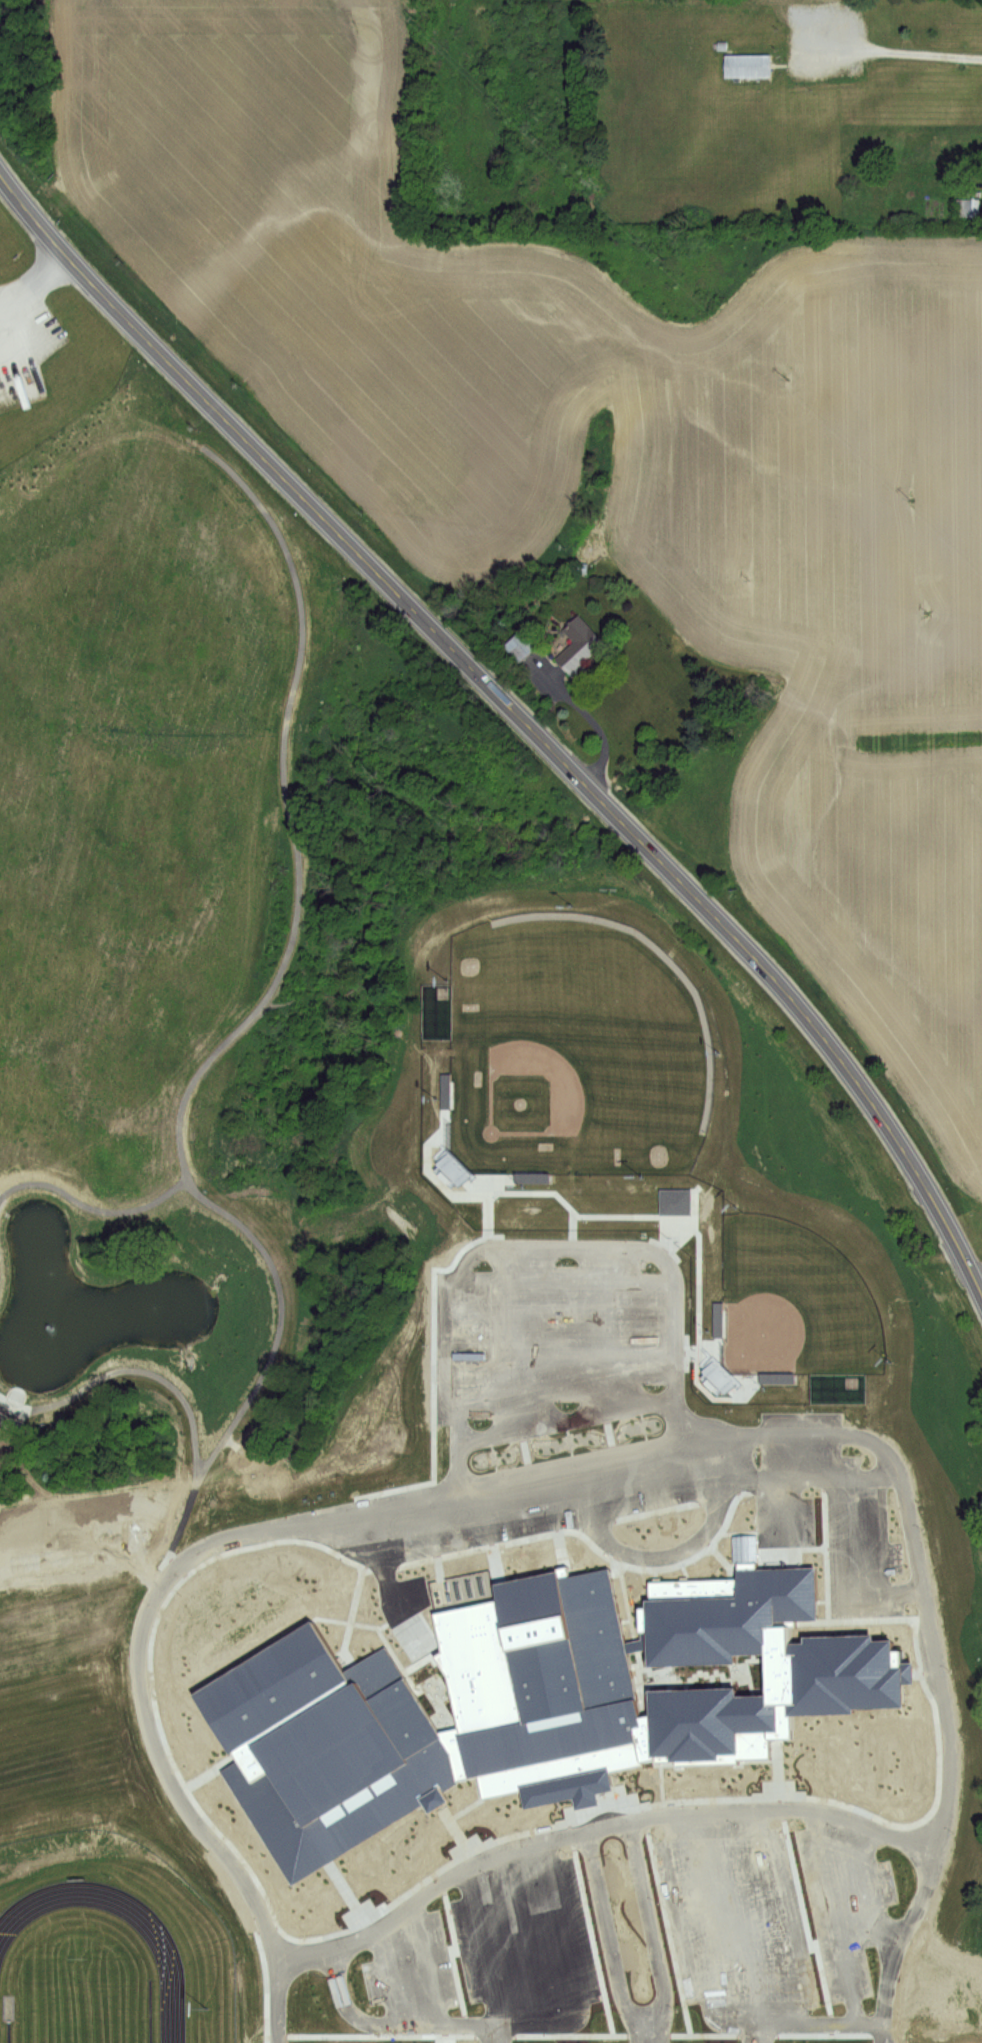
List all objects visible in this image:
road: (906, 53)
building: (751, 65)
building: (965, 208)
road: (30, 280)
crop: (616, 449)
building: (522, 646)
building: (581, 647)
road: (519, 718)
road: (594, 724)
road: (270, 991)
park: (574, 1052)
road: (430, 1170)
road: (488, 1195)
road: (87, 1205)
road: (573, 1232)
road: (540, 1249)
park: (792, 1300)
parking lot: (556, 1340)
road: (182, 1401)
road: (566, 1418)
road: (609, 1427)
road: (820, 1428)
road: (520, 1446)
road: (235, 1458)
building: (955, 1471)
road: (661, 1508)
road: (446, 1540)
road: (561, 1549)
road: (762, 1550)
road: (719, 1557)
road: (623, 1560)
road: (494, 1561)
road: (685, 1568)
building: (979, 1571)
road: (656, 1573)
road: (436, 1585)
road: (384, 1638)
building: (536, 1699)
building: (979, 1738)
park: (55, 1764)
road: (210, 1770)
road: (776, 1775)
road: (659, 1784)
road: (633, 1793)
road: (712, 1800)
road: (609, 1822)
road: (445, 1836)
parking lot: (845, 1899)
road: (342, 1905)
parking lot: (733, 1912)
road: (805, 1918)
road: (668, 1923)
road: (591, 1933)
parking lot: (524, 1939)
road: (454, 1954)
track: (165, 1961)
parking lot: (411, 1969)
park: (76, 2000)
road: (882, 2007)
road: (399, 2025)
road: (445, 2034)
road: (623, 2035)
road: (378, 2036)
road: (278, 2041)

